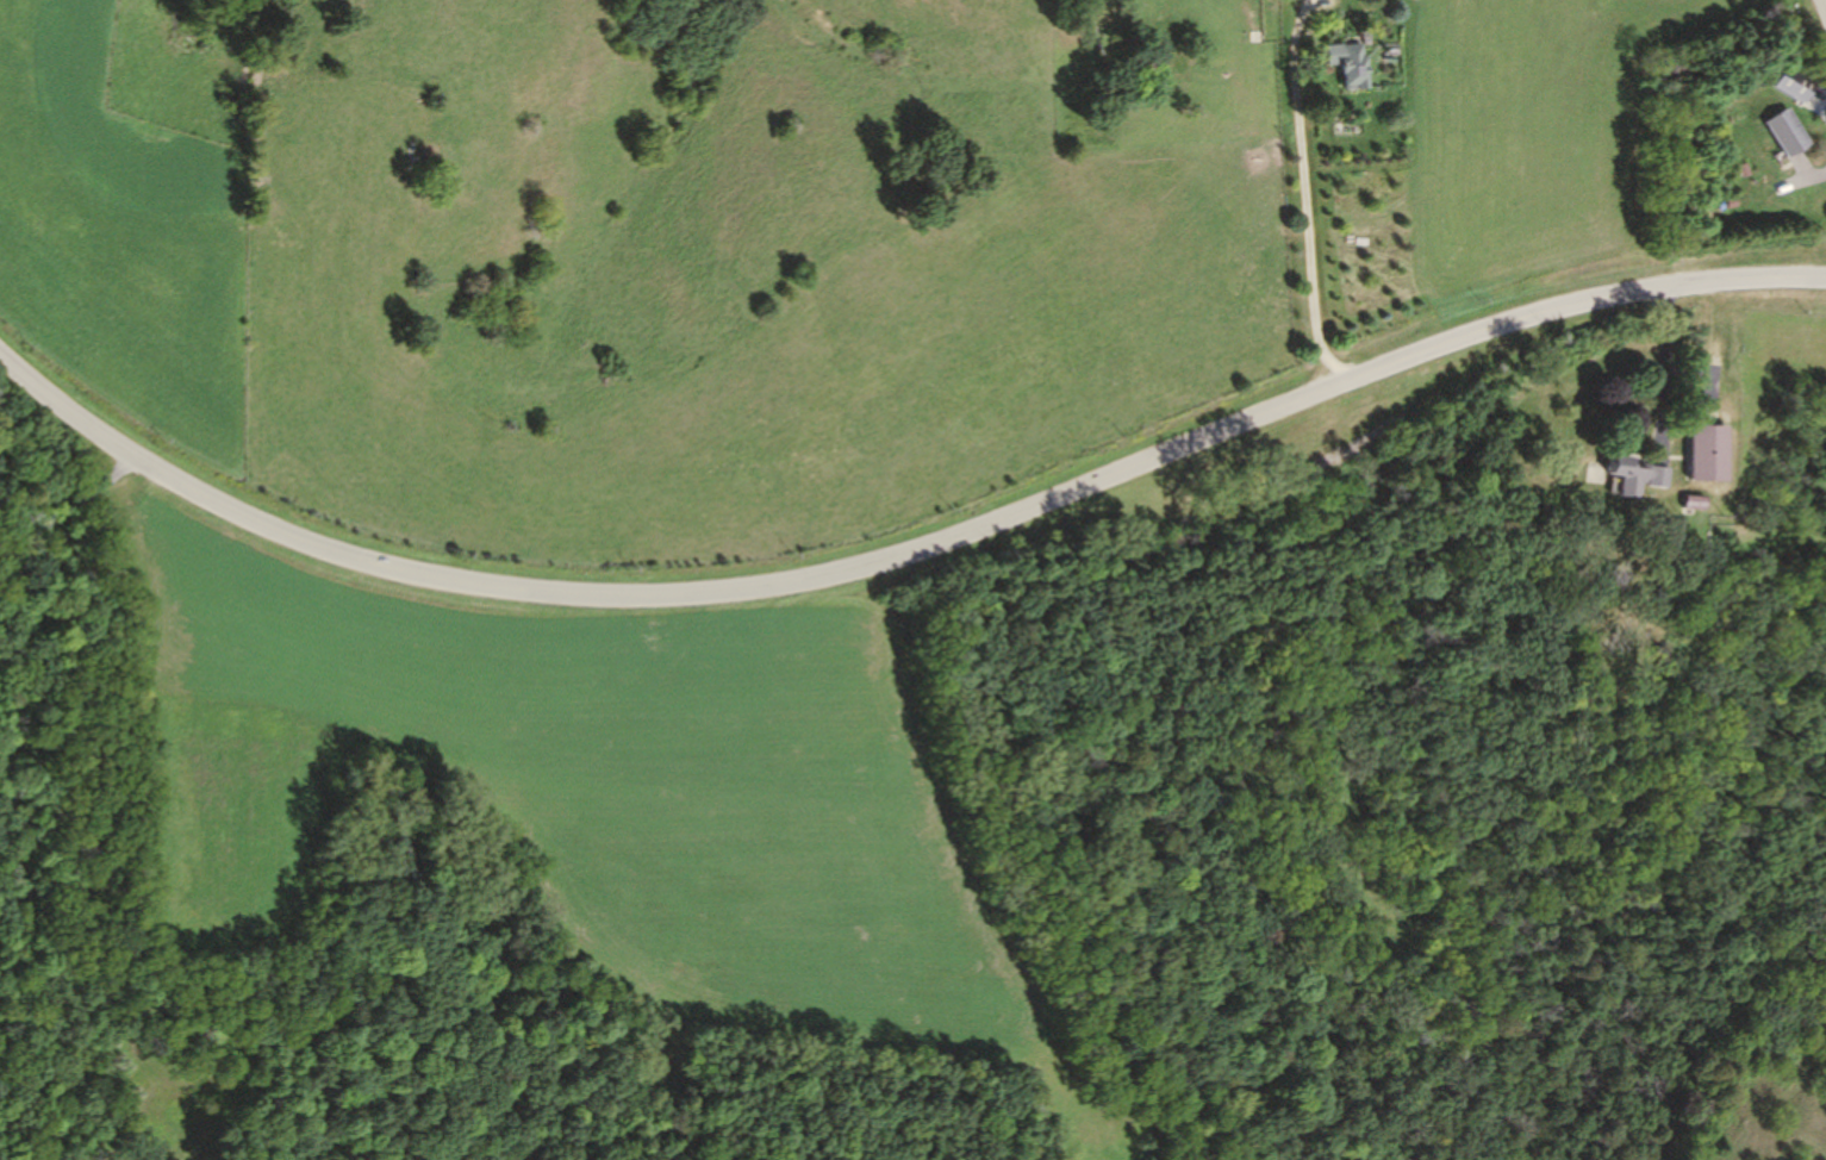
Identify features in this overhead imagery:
building: (1352, 68)
building: (1783, 131)
road: (1310, 193)
building: (1702, 454)
building: (1634, 475)
building: (1689, 501)
road: (900, 553)

